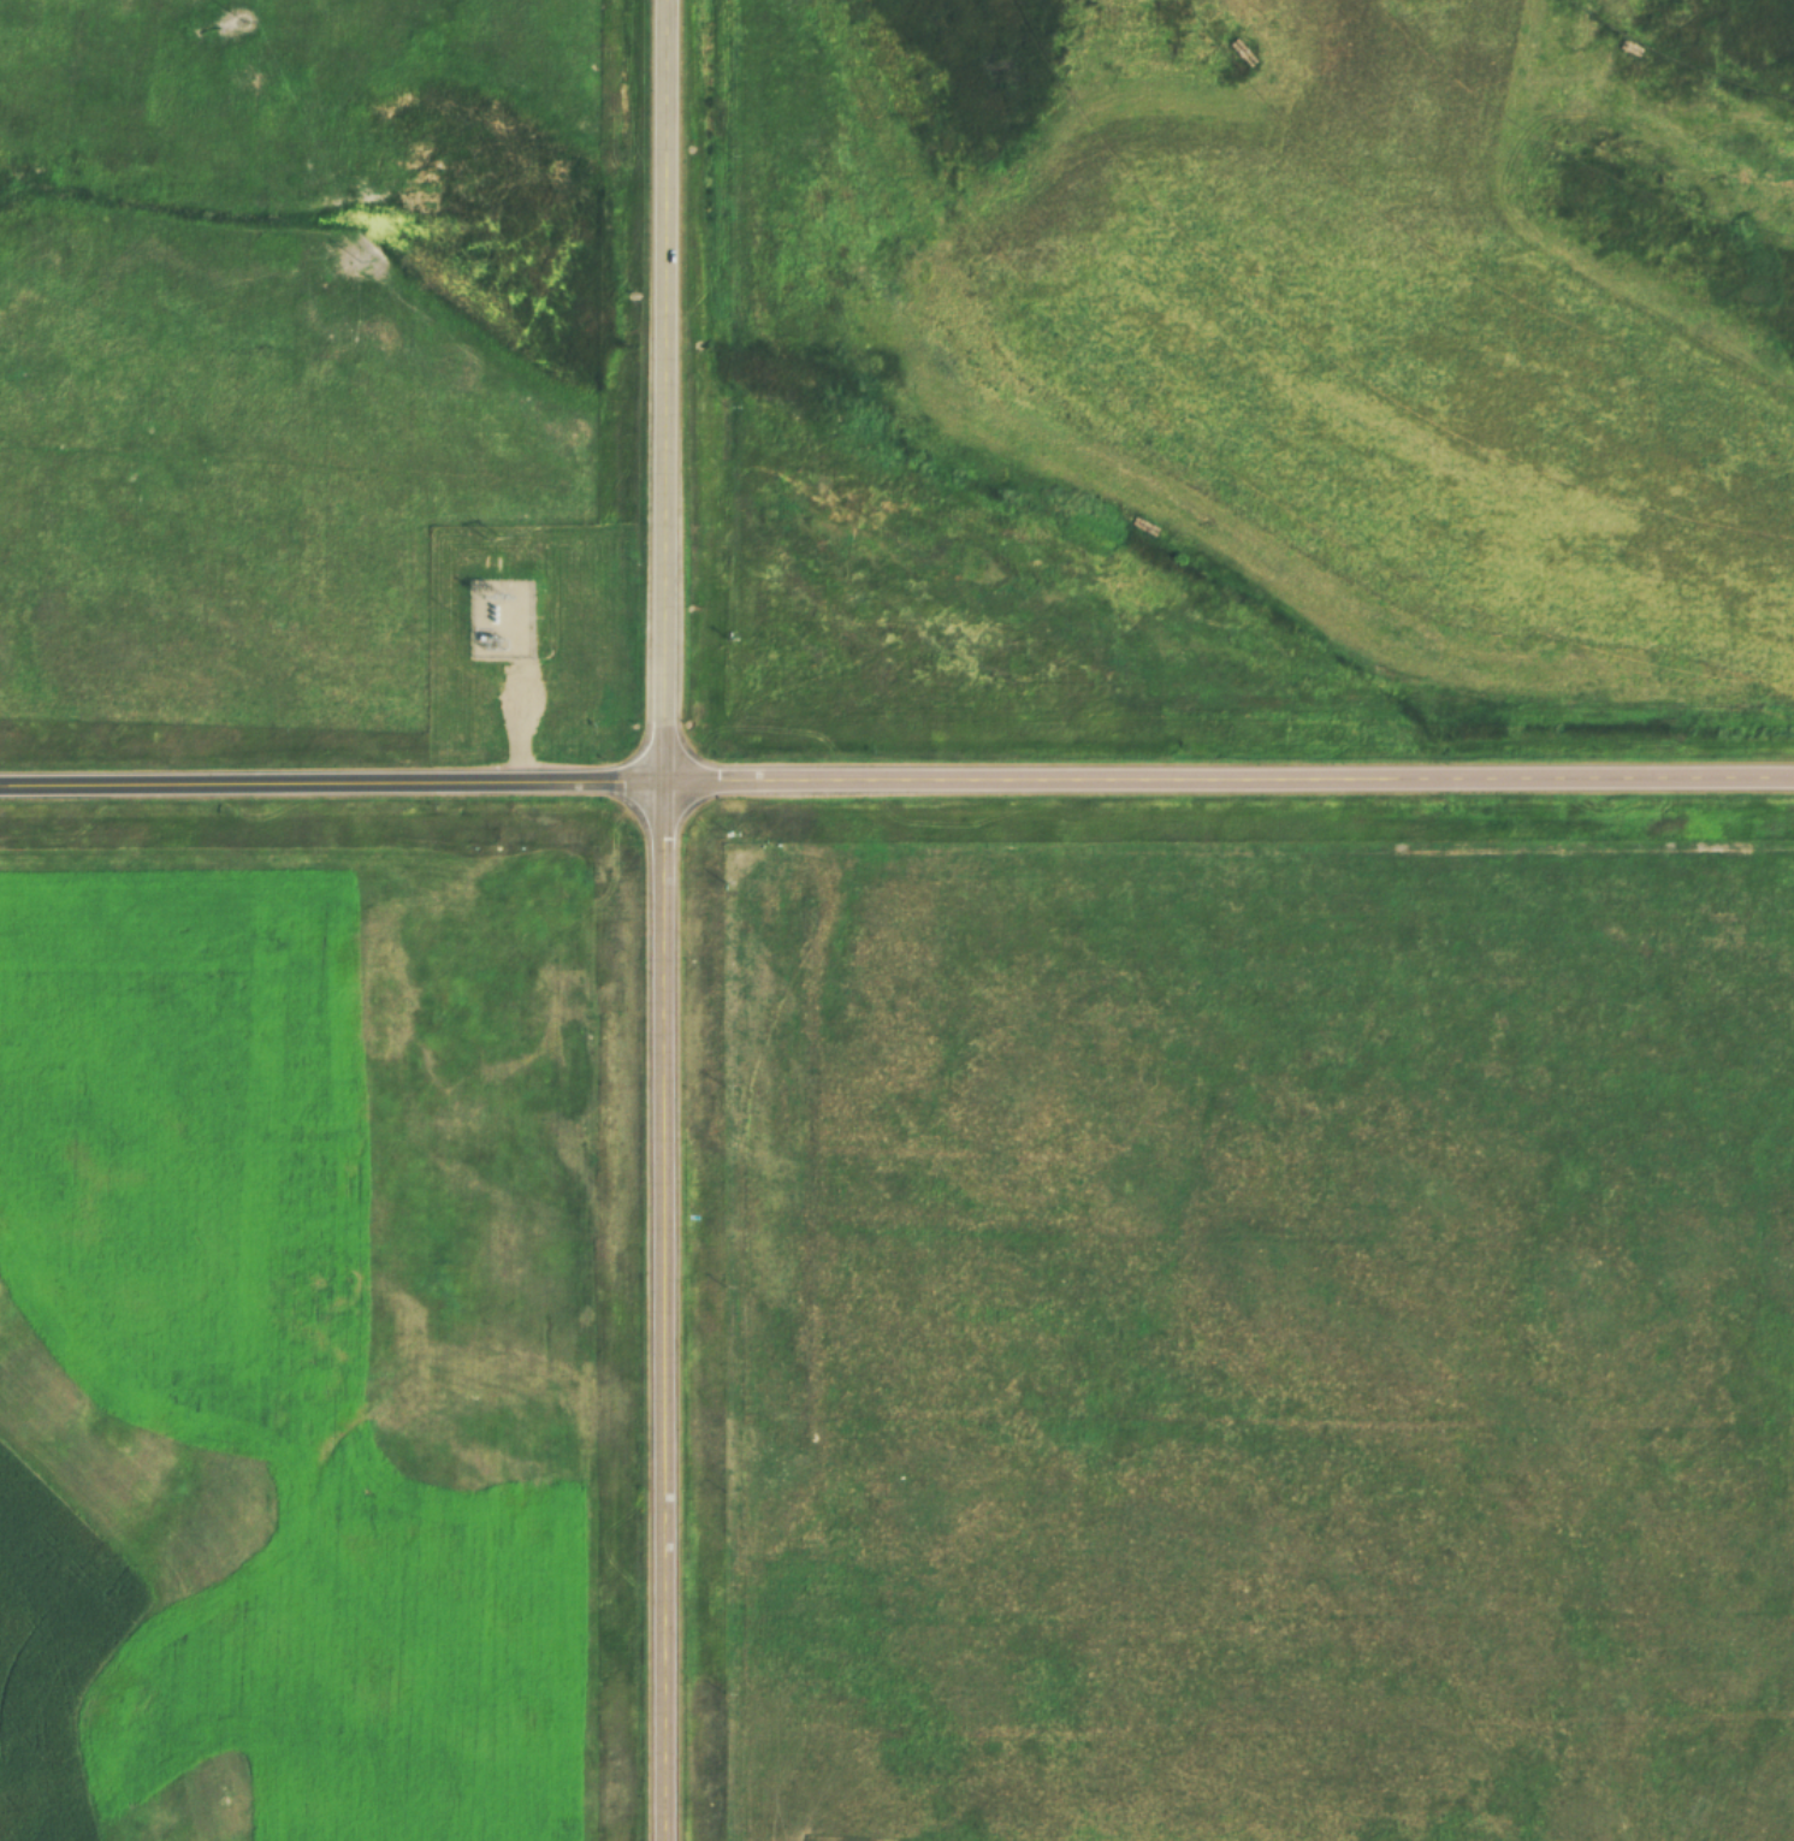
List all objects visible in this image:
power substation: (503, 617)
road: (896, 780)
road: (659, 920)

